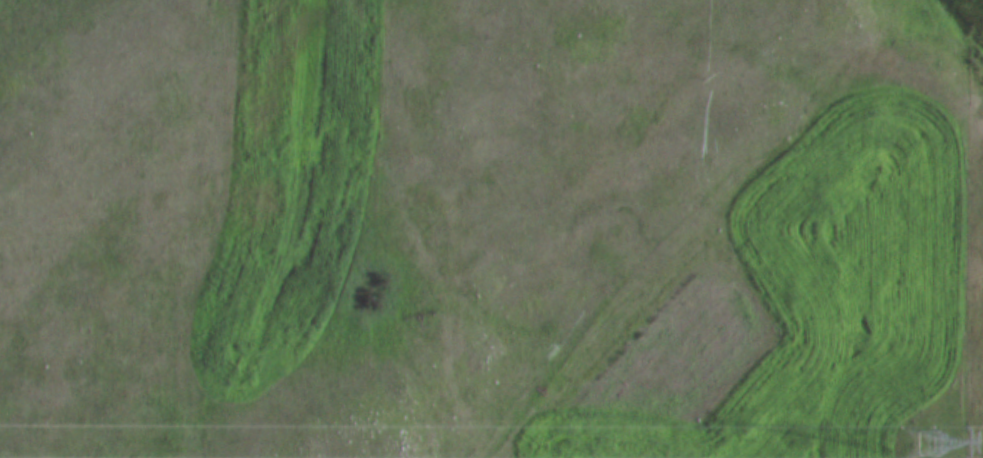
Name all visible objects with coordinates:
power tower: (908, 445)

